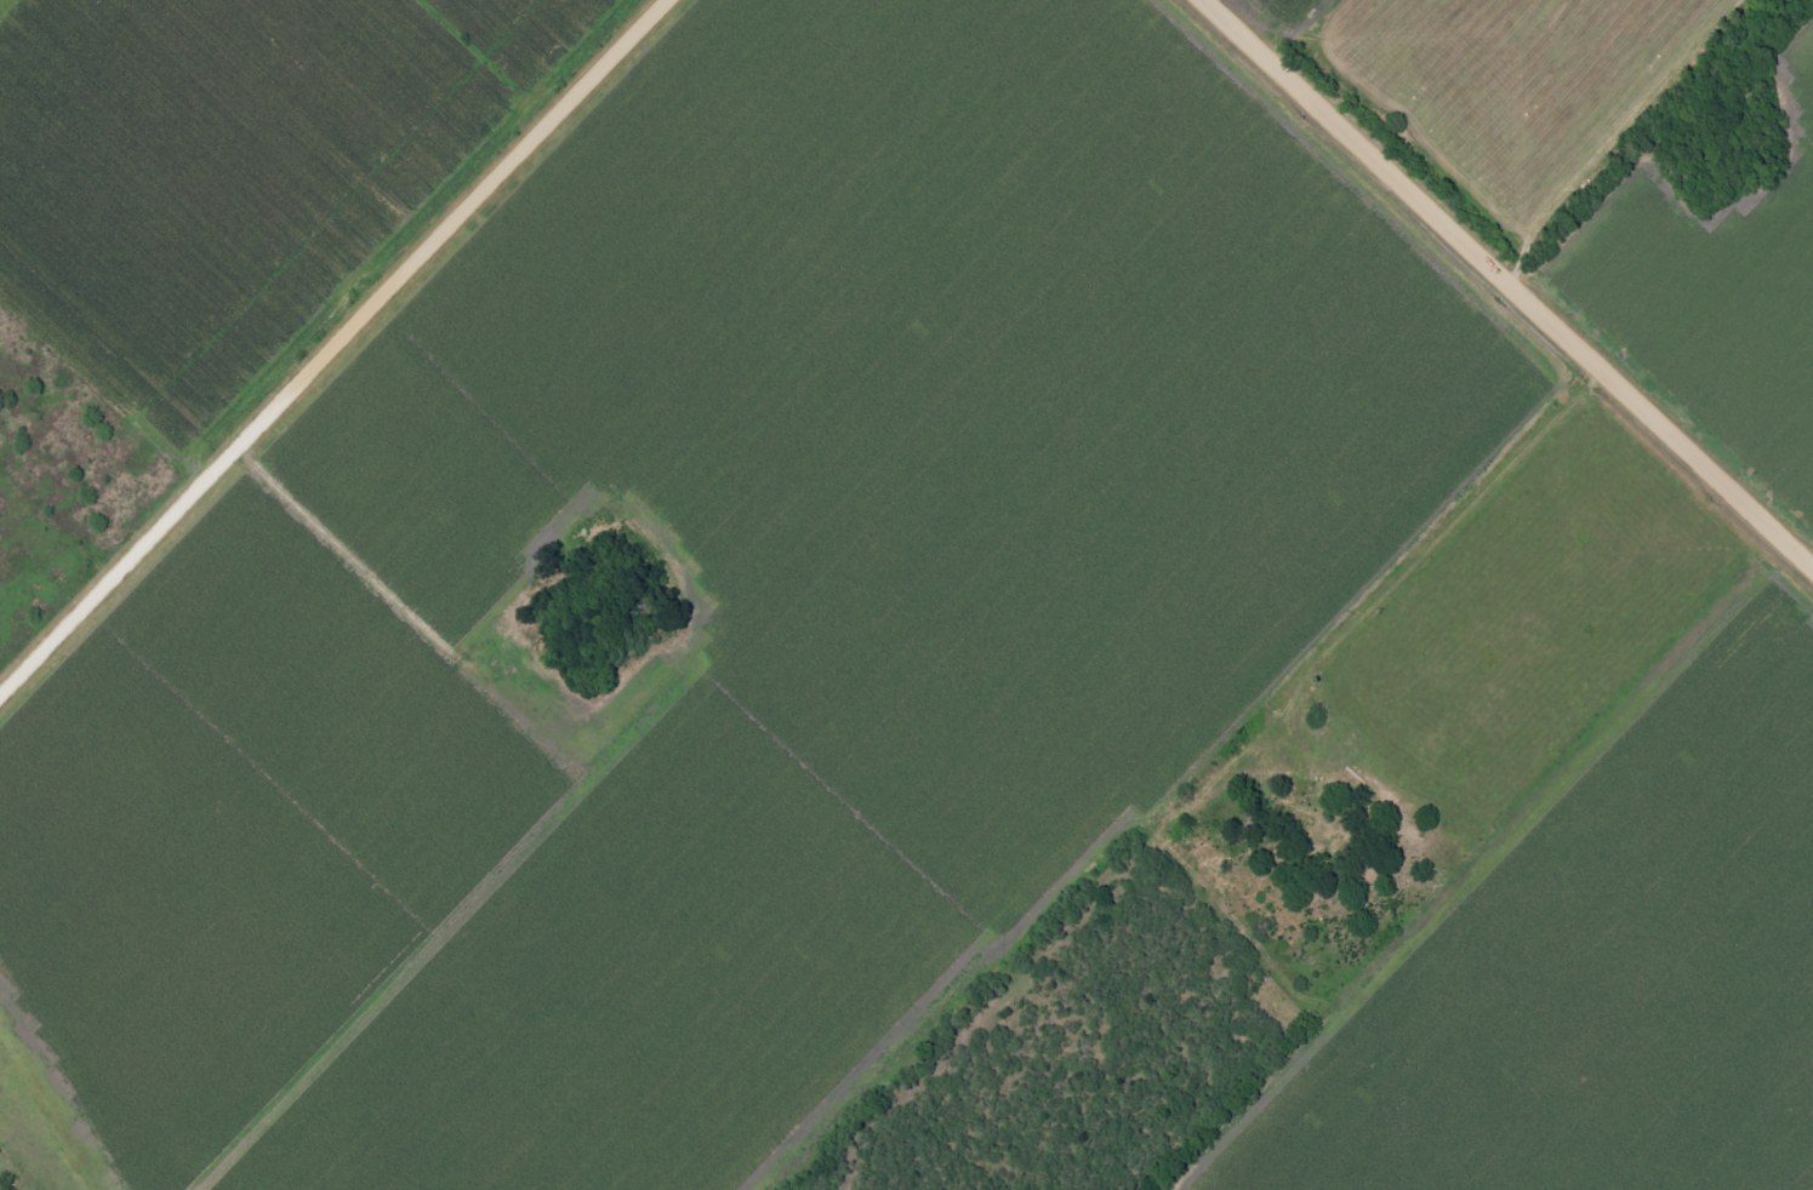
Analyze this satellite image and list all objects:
crop: (1284, 11)
crop: (232, 165)
road: (1510, 281)
road: (333, 349)

